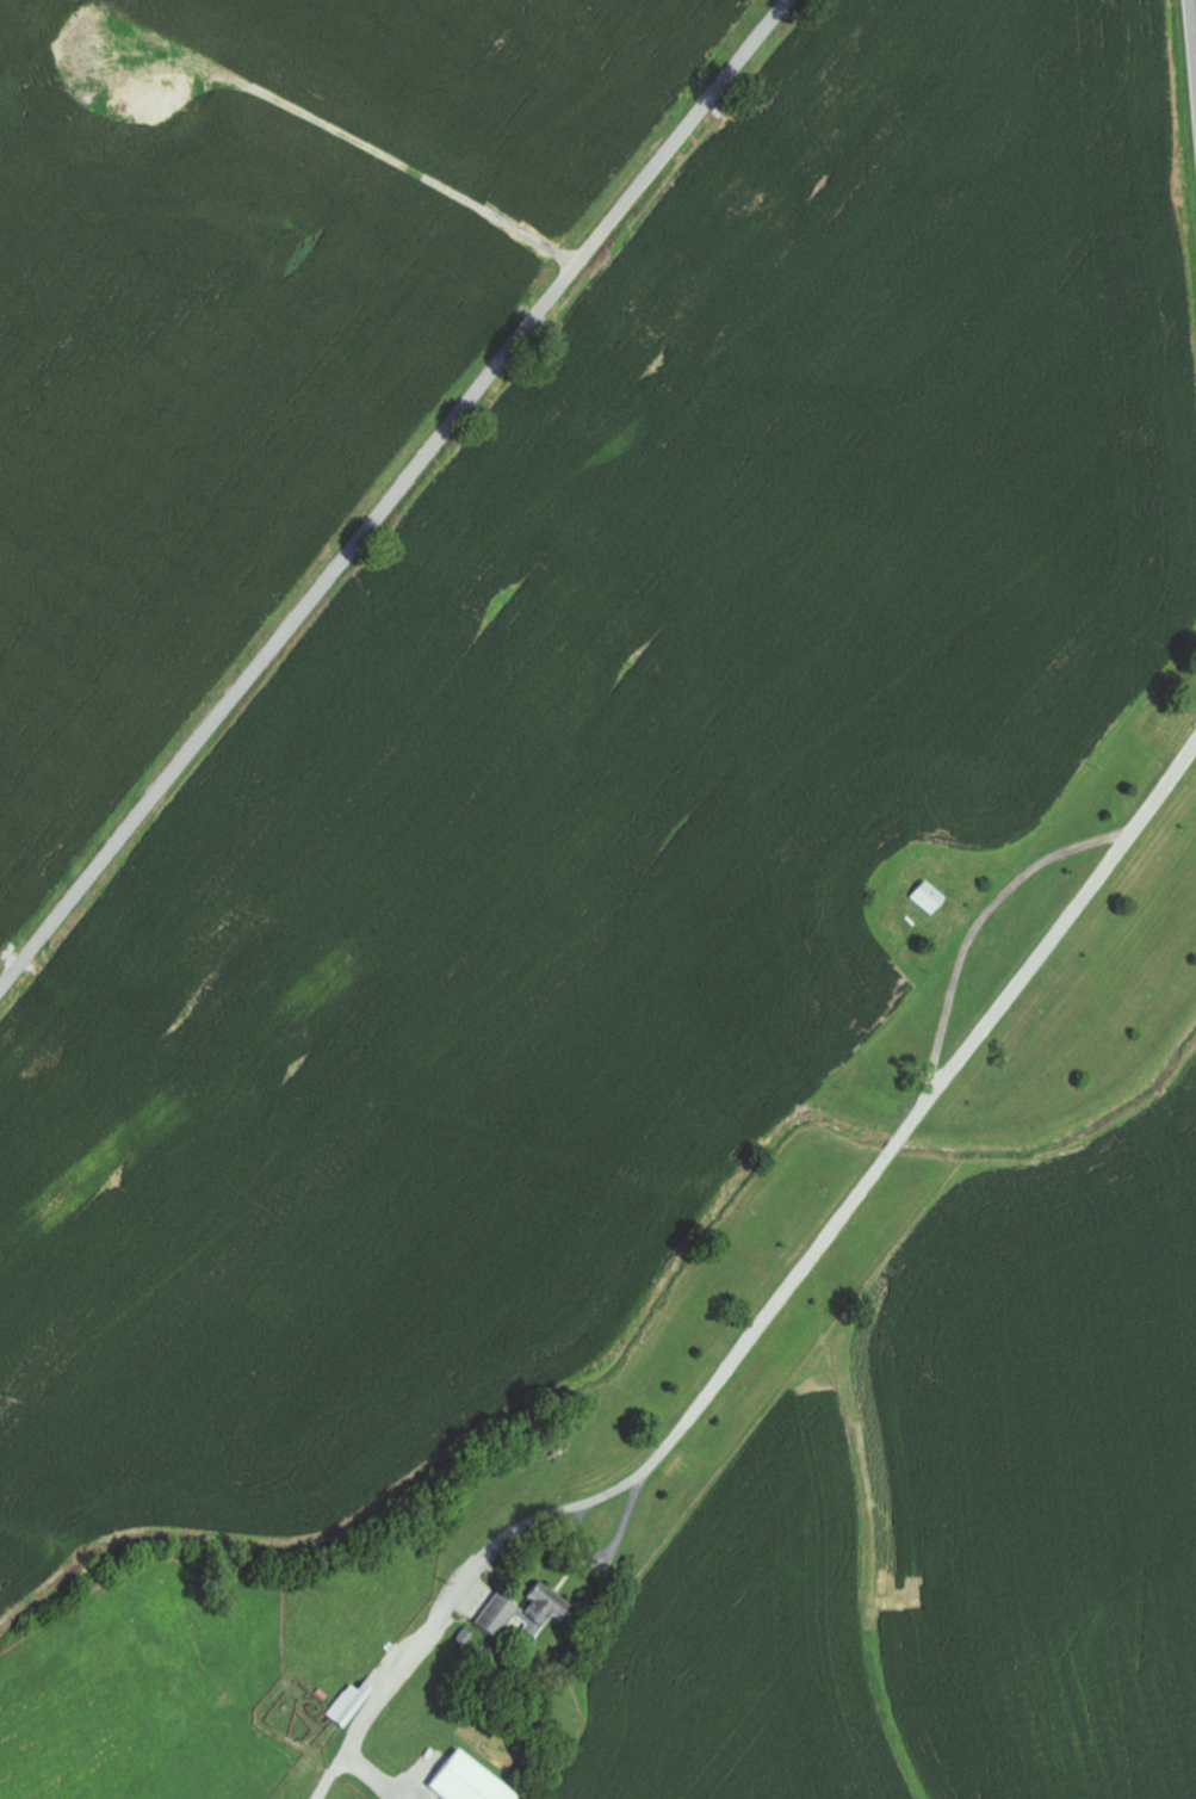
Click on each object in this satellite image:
road: (1194, 26)
road: (396, 496)
building: (925, 896)
road: (717, 1273)
building: (522, 1613)
building: (347, 1705)
building: (463, 1781)

